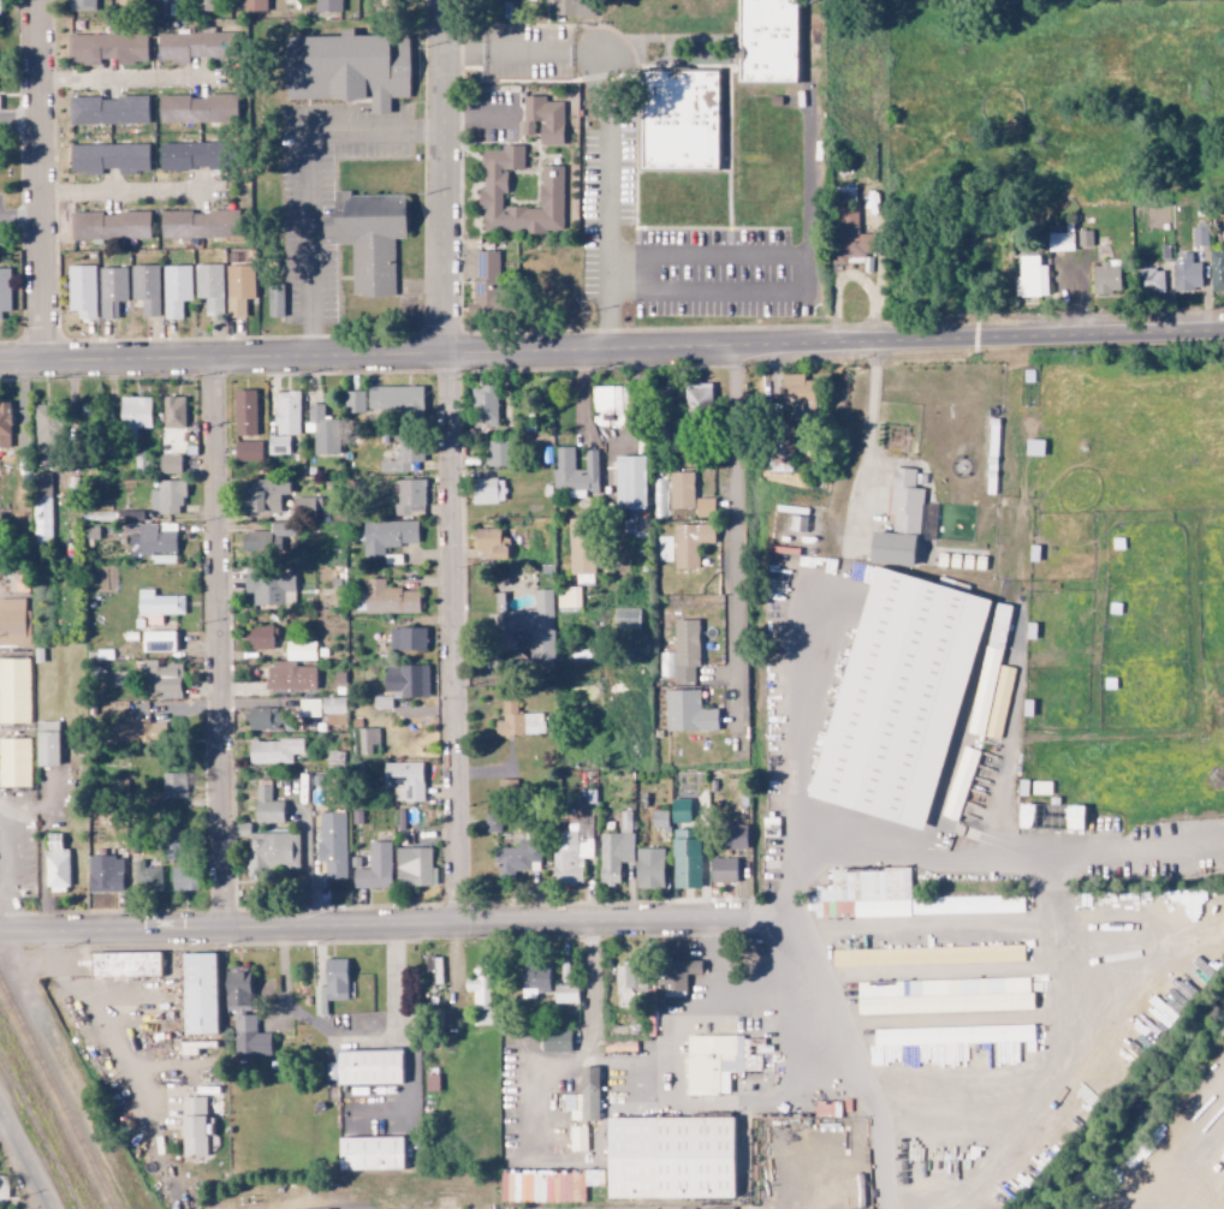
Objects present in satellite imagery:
building: (375, 0)
building: (82, 5)
building: (131, 5)
building: (204, 5)
building: (255, 5)
building: (327, 8)
building: (768, 41)
building: (194, 46)
building: (107, 48)
road: (467, 53)
road: (530, 53)
building: (347, 69)
building: (197, 108)
building: (108, 111)
building: (543, 120)
building: (679, 120)
road: (304, 155)
building: (196, 156)
building: (109, 157)
road: (444, 178)
road: (37, 181)
building: (494, 181)
road: (600, 187)
building: (200, 224)
building: (111, 226)
building: (368, 238)
building: (851, 238)
building: (1085, 238)
building: (1060, 242)
road: (705, 252)
building: (1187, 273)
building: (1030, 278)
building: (1106, 278)
building: (1152, 281)
building: (487, 284)
building: (209, 287)
building: (145, 288)
building: (176, 290)
building: (238, 290)
building: (82, 291)
building: (112, 291)
road: (801, 291)
building: (5, 293)
building: (275, 302)
road: (832, 343)
road: (220, 359)
building: (699, 398)
building: (797, 398)
building: (394, 400)
building: (610, 400)
building: (353, 403)
building: (485, 407)
building: (135, 412)
building: (173, 412)
building: (244, 413)
building: (286, 413)
building: (5, 425)
building: (48, 428)
building: (322, 430)
building: (278, 446)
building: (248, 451)
building: (499, 453)
building: (404, 455)
building: (170, 464)
building: (569, 474)
building: (630, 483)
building: (681, 490)
building: (488, 492)
building: (410, 496)
building: (167, 498)
building: (905, 502)
building: (309, 508)
building: (705, 508)
building: (41, 510)
building: (130, 517)
building: (386, 537)
building: (272, 540)
road: (729, 541)
building: (690, 543)
building: (491, 546)
building: (582, 548)
building: (892, 549)
building: (791, 555)
building: (18, 578)
building: (271, 589)
building: (390, 598)
building: (158, 606)
building: (626, 619)
building: (13, 624)
building: (535, 627)
building: (259, 637)
building: (408, 639)
road: (453, 639)
building: (159, 642)
road: (216, 645)
building: (299, 650)
building: (685, 651)
building: (988, 669)
building: (290, 677)
building: (161, 680)
building: (405, 681)
building: (14, 691)
building: (908, 699)
building: (382, 702)
building: (999, 702)
building: (309, 708)
building: (333, 710)
building: (688, 713)
building: (265, 719)
building: (518, 722)
building: (141, 732)
building: (368, 742)
building: (47, 744)
building: (274, 751)
building: (14, 763)
building: (405, 780)
building: (173, 786)
building: (507, 788)
building: (267, 806)
building: (681, 811)
building: (1027, 817)
building: (1071, 818)
building: (492, 823)
building: (736, 838)
building: (332, 844)
building: (172, 851)
building: (271, 853)
building: (570, 856)
building: (613, 856)
building: (518, 858)
building: (685, 862)
building: (55, 864)
building: (375, 868)
building: (415, 868)
building: (649, 869)
building: (723, 870)
building: (105, 875)
building: (147, 877)
building: (183, 880)
building: (895, 897)
road: (379, 927)
building: (928, 955)
building: (125, 964)
building: (433, 970)
building: (677, 975)
building: (534, 979)
building: (332, 983)
building: (624, 985)
building: (481, 988)
building: (198, 993)
building: (565, 993)
building: (944, 995)
building: (244, 1014)
building: (555, 1040)
building: (717, 1062)
building: (369, 1066)
building: (1211, 1089)
railway: (54, 1100)
railway: (48, 1113)
railway: (41, 1126)
building: (195, 1126)
railway: (35, 1138)
building: (800, 1143)
building: (839, 1147)
building: (370, 1153)
road: (26, 1155)
building: (673, 1169)
building: (546, 1185)
building: (4, 1186)
building: (844, 1204)
building: (326, 1208)

